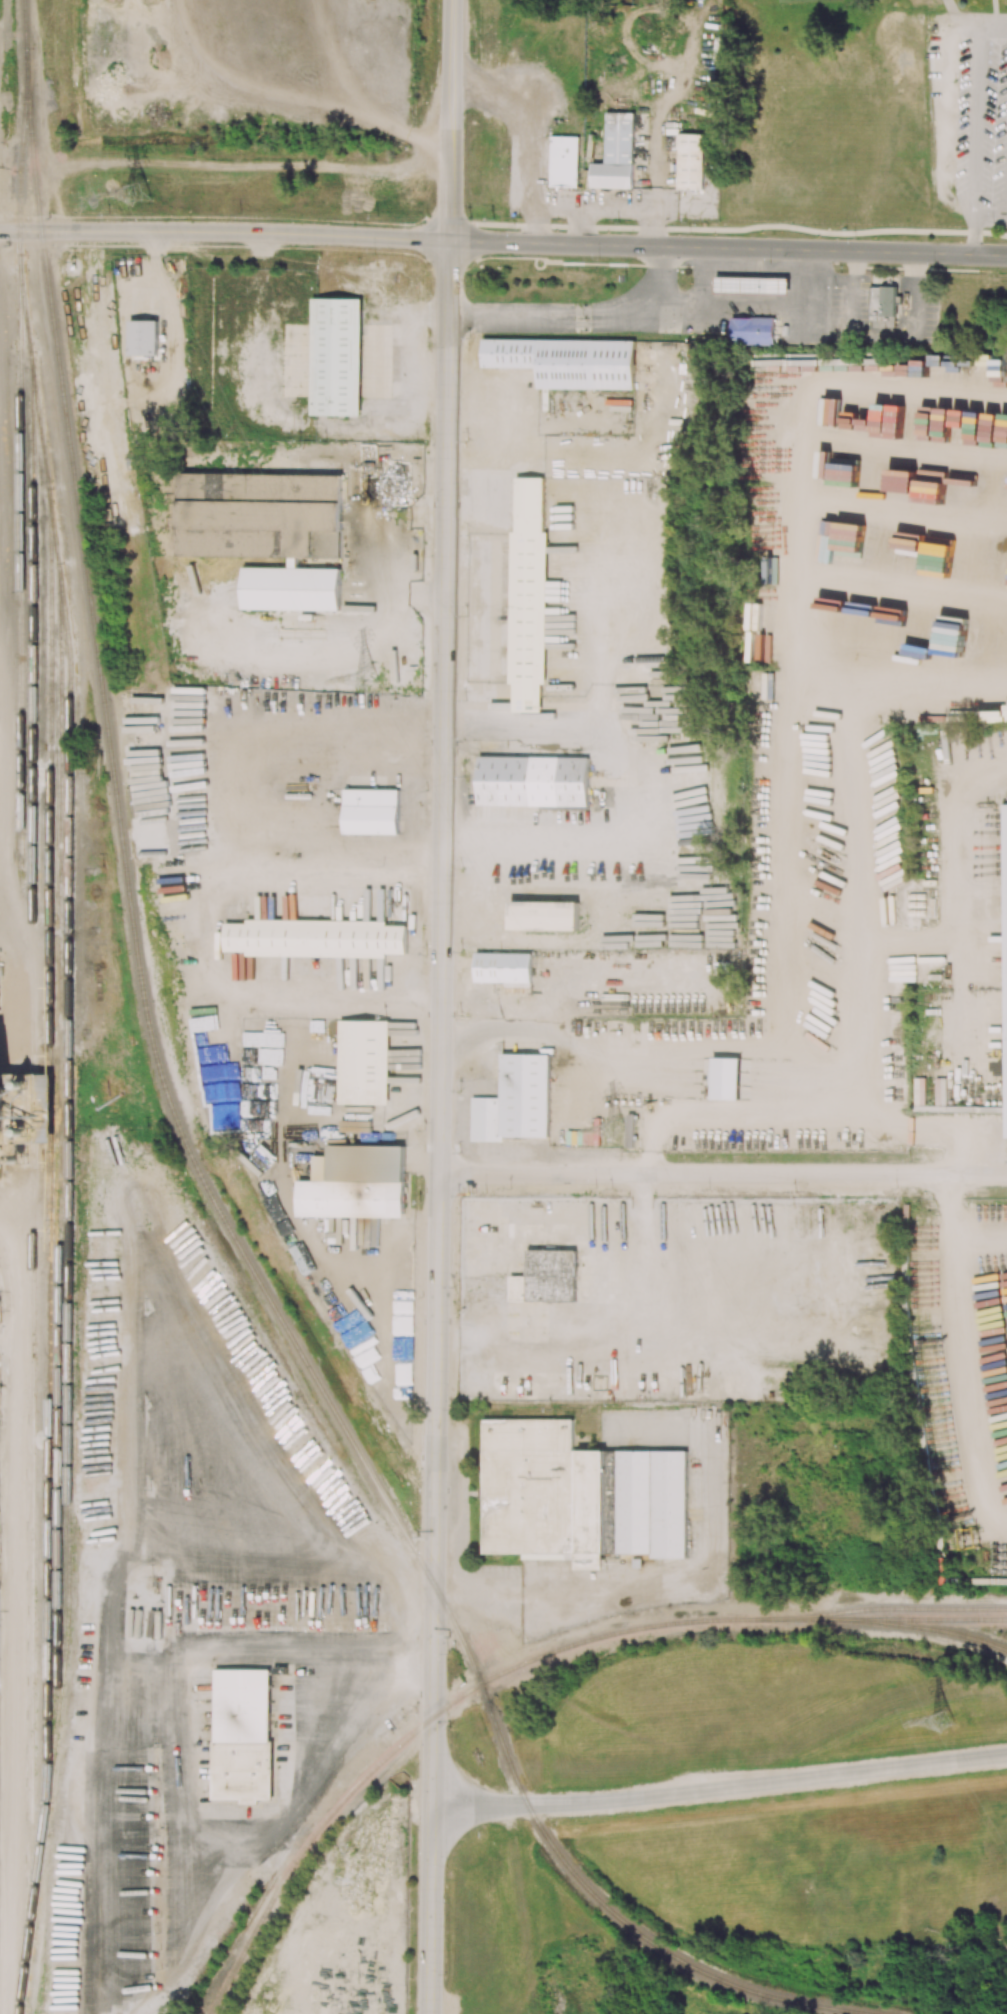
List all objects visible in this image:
road: (994, 25)
park: (298, 105)
park: (868, 110)
parking lot: (968, 112)
road: (450, 120)
road: (975, 120)
building: (616, 152)
building: (564, 161)
building: (691, 162)
power tower: (140, 193)
railway: (38, 203)
road: (989, 215)
road: (728, 230)
road: (224, 233)
road: (972, 234)
road: (727, 248)
road: (699, 274)
road: (831, 276)
building: (748, 285)
road: (915, 295)
road: (750, 303)
building: (883, 306)
road: (575, 317)
road: (850, 319)
building: (752, 330)
building: (143, 338)
building: (336, 356)
building: (567, 361)
road: (475, 383)
railway: (20, 440)
road: (787, 475)
building: (272, 536)
road: (387, 589)
building: (528, 594)
power tower: (368, 679)
building: (532, 780)
road: (807, 780)
road: (614, 786)
building: (375, 809)
road: (220, 869)
road: (330, 872)
building: (544, 915)
building: (316, 938)
building: (1005, 954)
building: (504, 968)
road: (572, 1037)
building: (364, 1062)
building: (726, 1076)
building: (46, 1088)
building: (528, 1094)
building: (8, 1098)
road: (696, 1110)
road: (438, 1127)
power tower: (616, 1129)
railway: (50, 1131)
railway: (33, 1140)
railway: (59, 1143)
railway: (70, 1144)
building: (369, 1162)
road: (853, 1172)
road: (568, 1173)
road: (979, 1230)
building: (546, 1277)
railway: (266, 1294)
road: (126, 1314)
road: (736, 1331)
road: (620, 1334)
road: (960, 1351)
building: (578, 1495)
railway: (883, 1610)
railway: (884, 1619)
railway: (935, 1629)
building: (245, 1705)
power tower: (945, 1721)
railway: (423, 1726)
road: (719, 1786)
road: (254, 1851)

